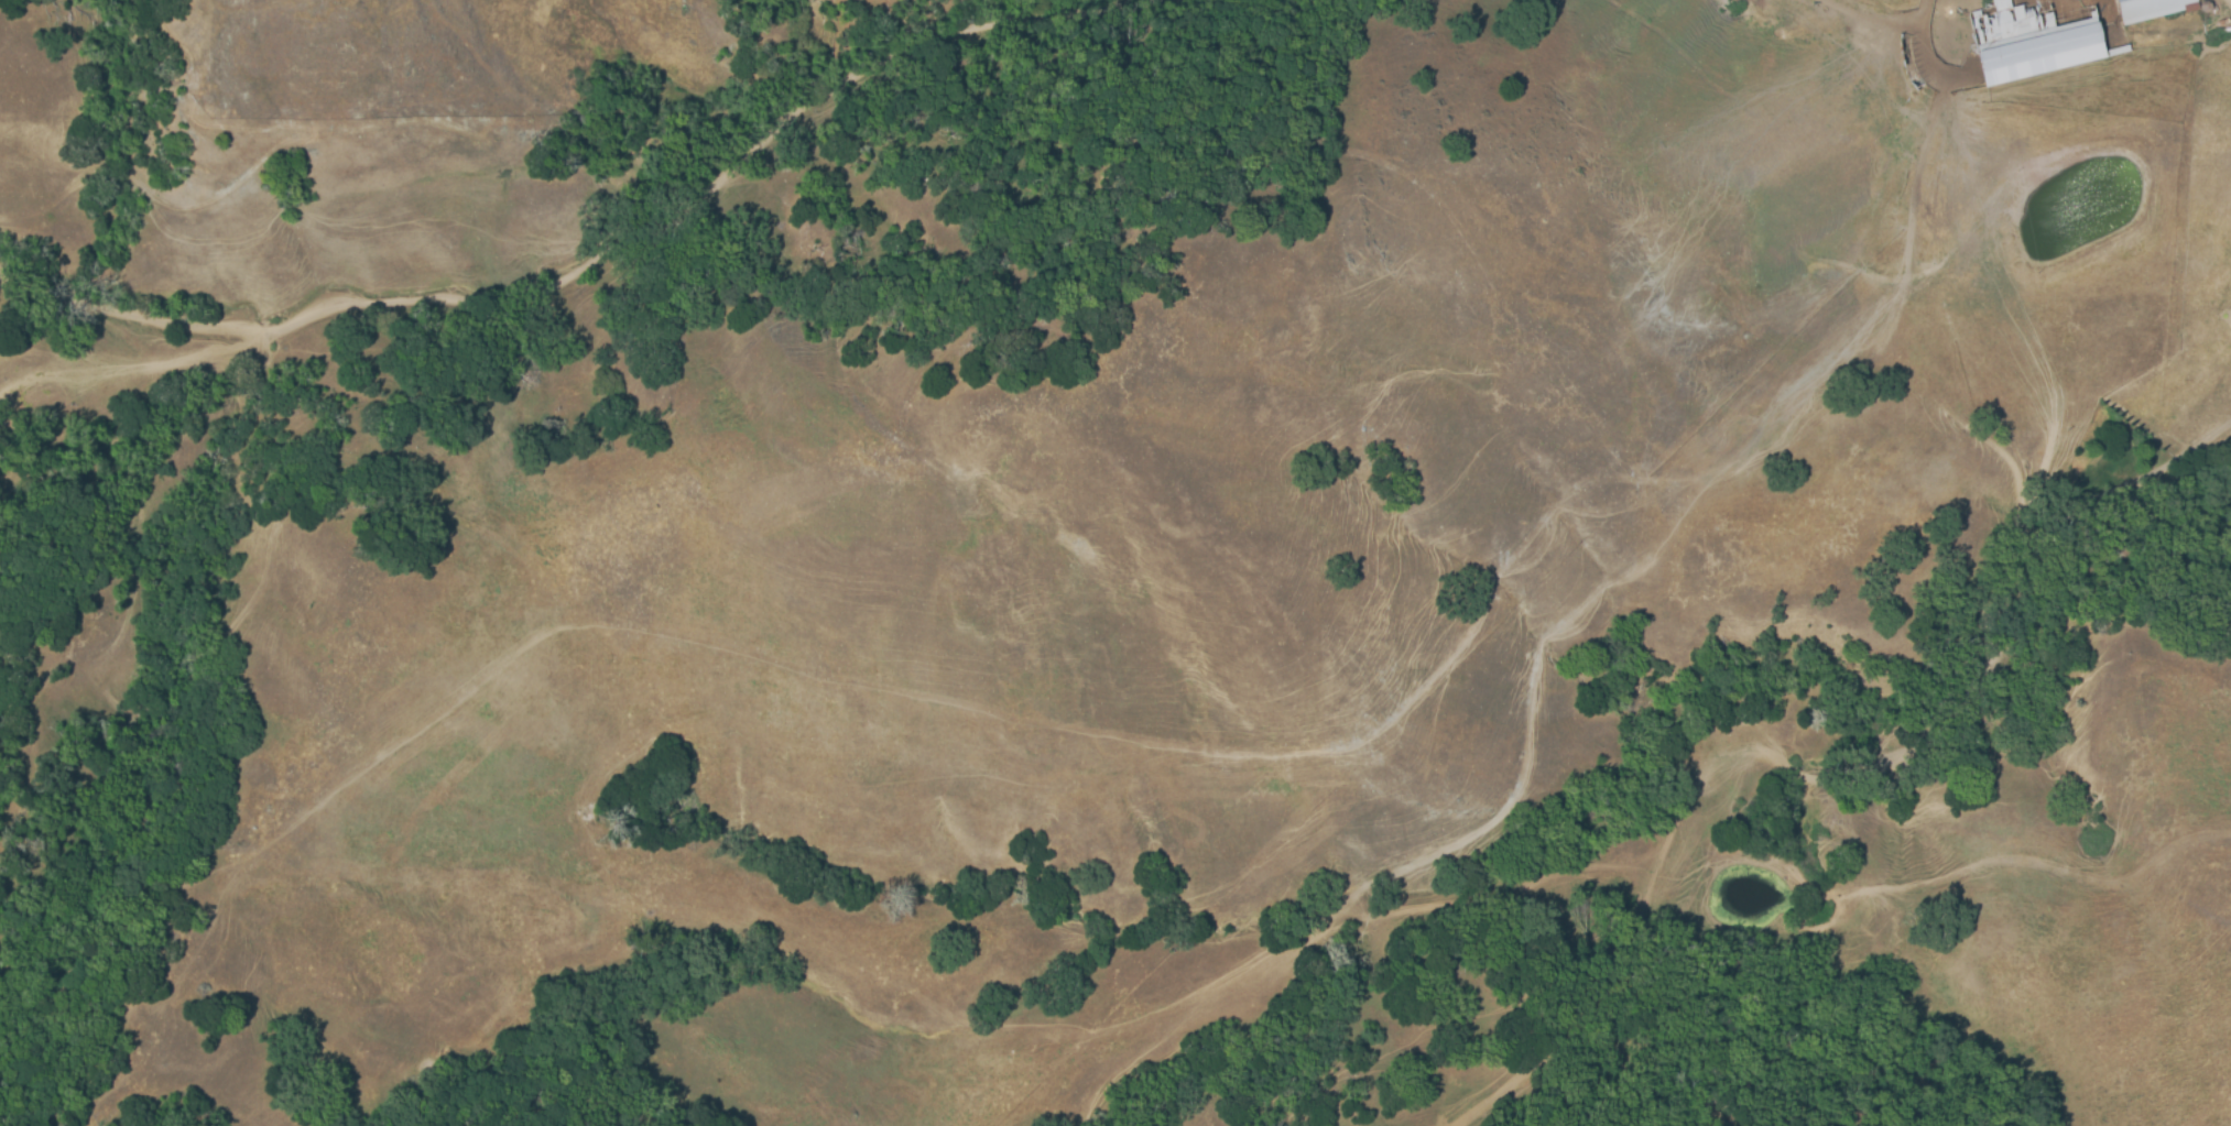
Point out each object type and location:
building: (2151, 8)
building: (2033, 41)
road: (2209, 437)

